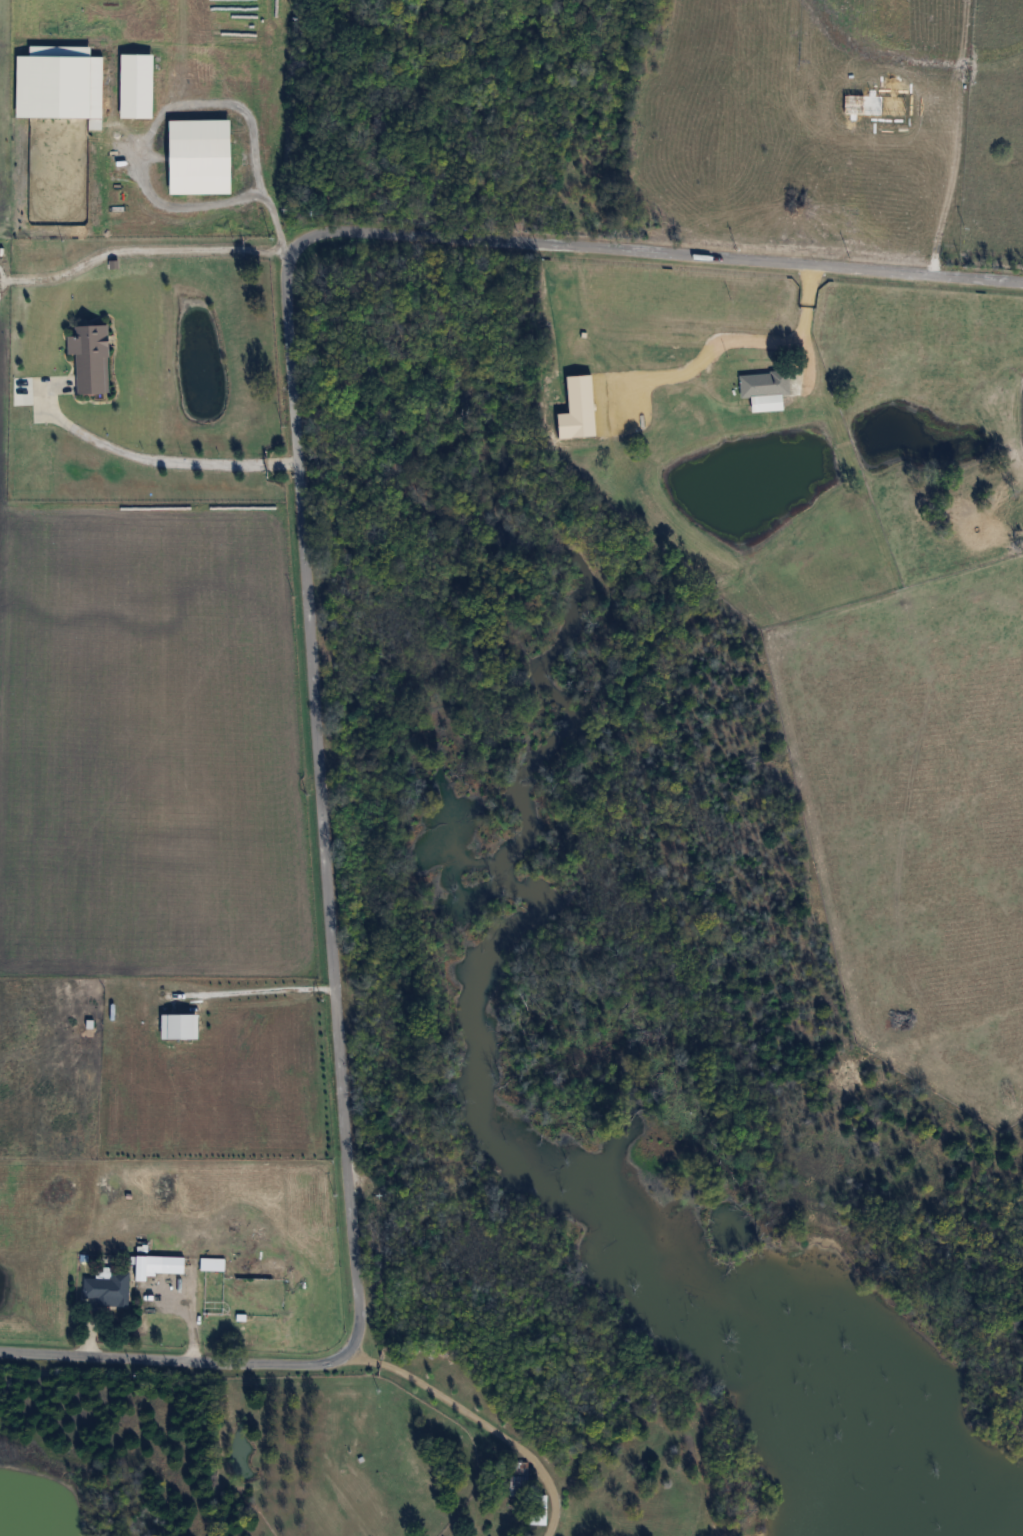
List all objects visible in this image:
building: (55, 76)
building: (132, 79)
building: (876, 105)
road: (173, 106)
building: (195, 151)
road: (896, 208)
road: (140, 248)
building: (578, 340)
building: (85, 352)
building: (672, 353)
building: (758, 379)
parking lot: (44, 392)
building: (762, 397)
road: (743, 402)
building: (578, 408)
road: (132, 455)
road: (302, 600)
road: (240, 987)
building: (174, 1020)
building: (207, 1259)
building: (153, 1260)
building: (212, 1264)
building: (103, 1284)
parking lot: (163, 1289)
road: (83, 1329)
road: (185, 1333)
road: (476, 1418)
building: (520, 1480)
building: (542, 1509)

